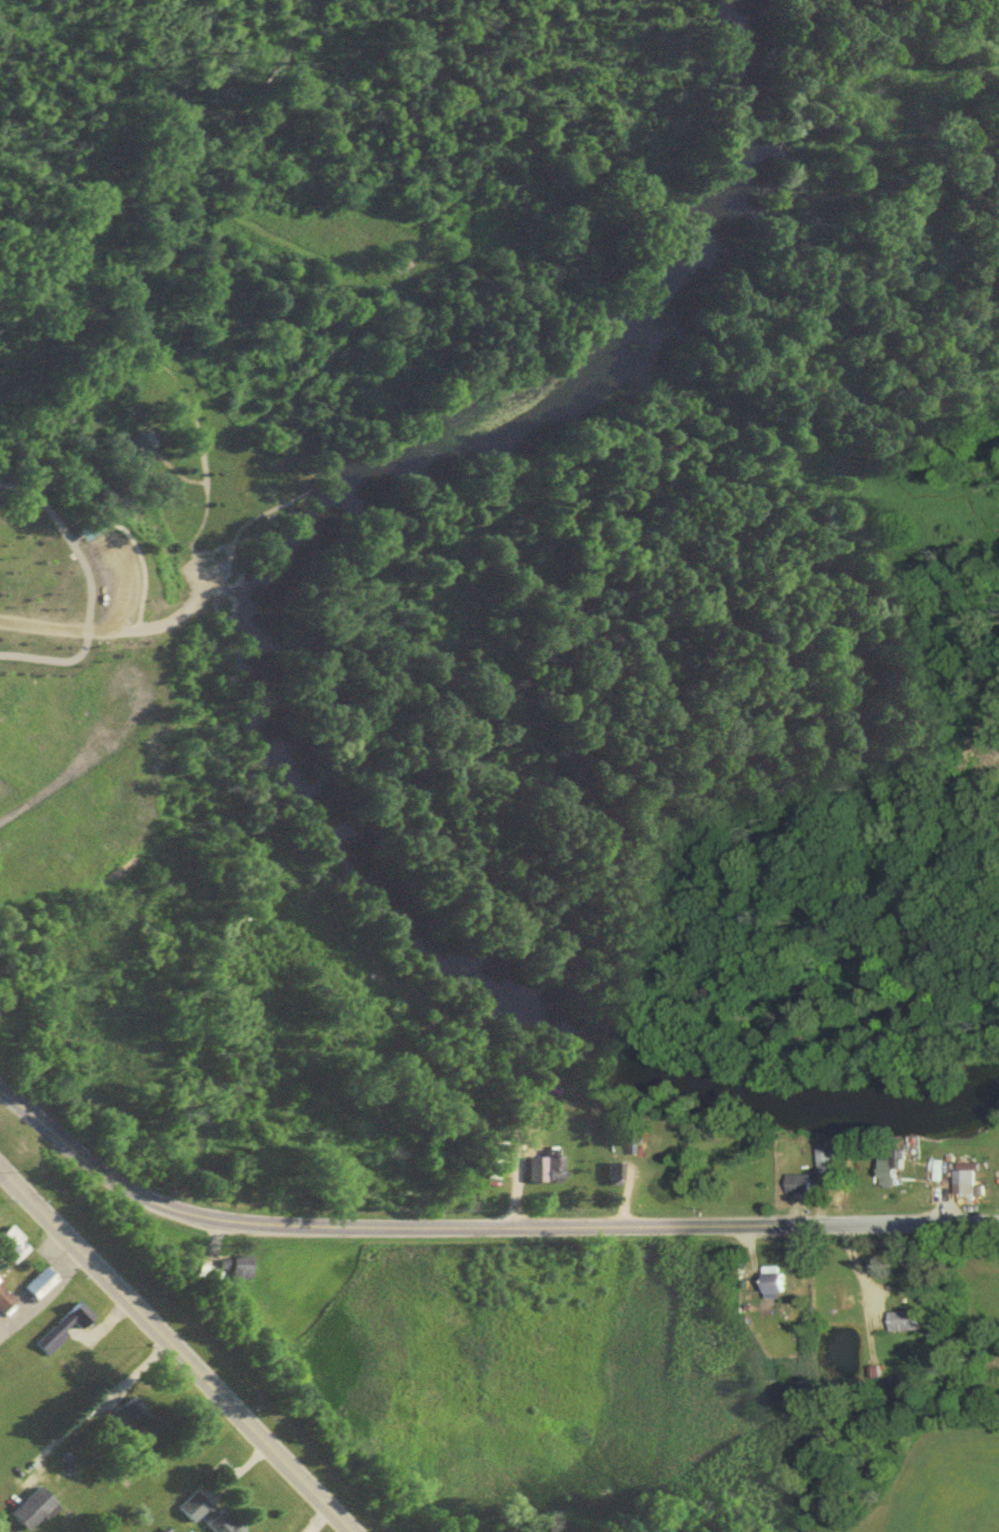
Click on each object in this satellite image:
road: (455, 303)
road: (408, 346)
road: (308, 377)
road: (177, 383)
road: (342, 391)
road: (351, 424)
building: (139, 439)
building: (144, 446)
road: (170, 468)
building: (87, 527)
road: (229, 543)
parking lot: (111, 570)
road: (86, 593)
road: (136, 598)
road: (111, 631)
river: (256, 685)
building: (893, 1165)
building: (551, 1170)
building: (824, 1173)
building: (608, 1177)
building: (963, 1187)
building: (797, 1188)
road: (480, 1232)
building: (10, 1251)
building: (236, 1272)
building: (770, 1285)
building: (0, 1288)
building: (36, 1291)
road: (45, 1303)
building: (4, 1305)
building: (74, 1319)
building: (901, 1326)
building: (49, 1344)
road: (173, 1352)
road: (89, 1410)
building: (130, 1420)
building: (28, 1512)
building: (203, 1517)
road: (316, 1521)

